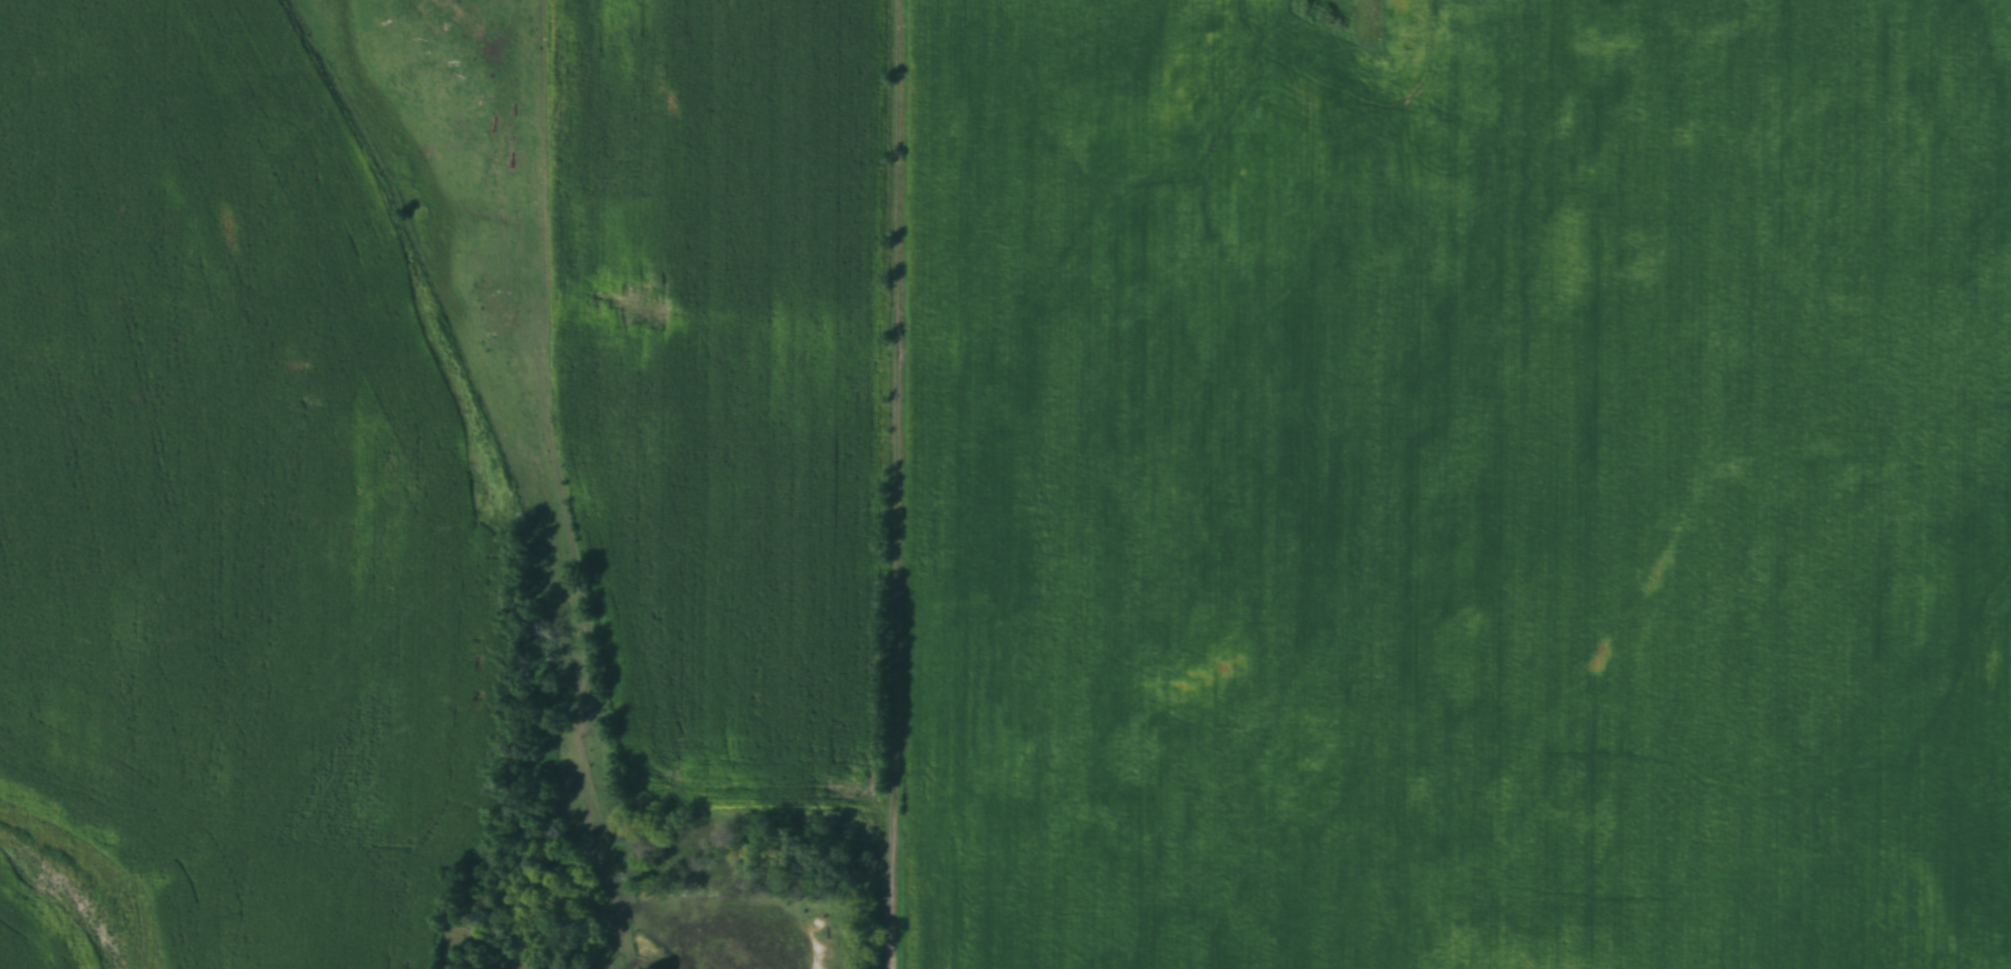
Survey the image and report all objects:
road: (902, 484)

